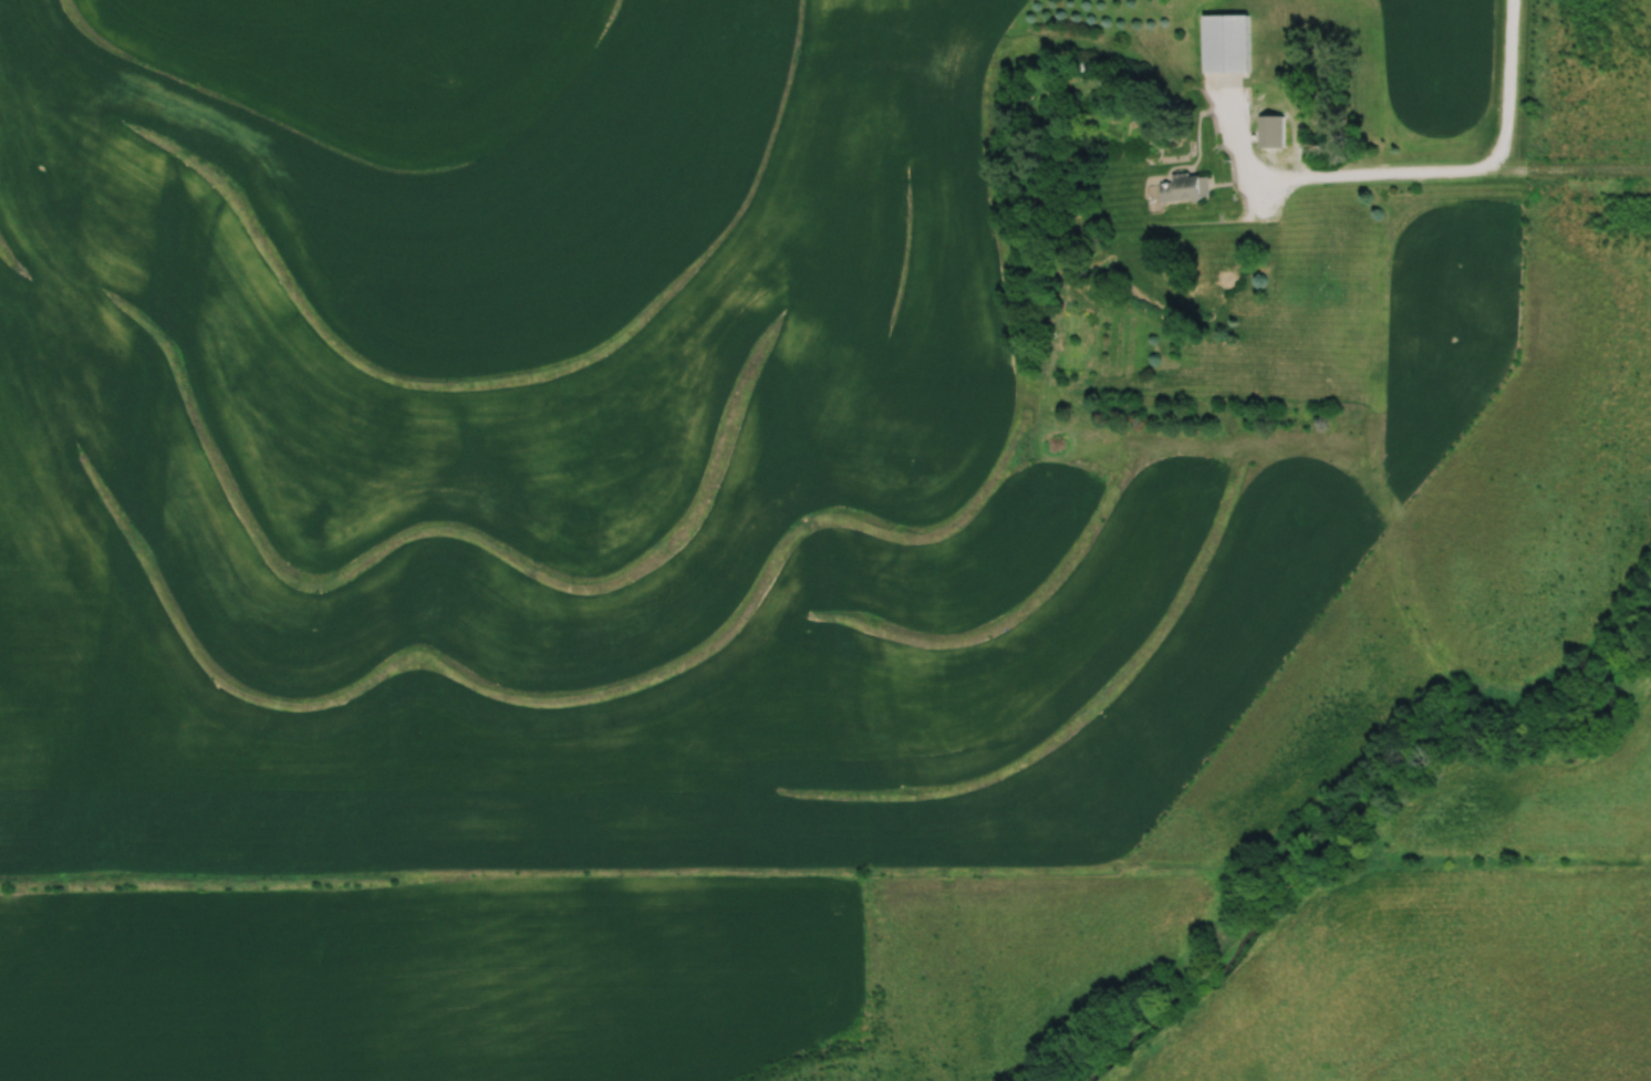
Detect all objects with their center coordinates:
building: (1226, 42)
building: (1270, 131)
road: (1576, 169)
road: (1465, 171)
building: (1185, 187)

